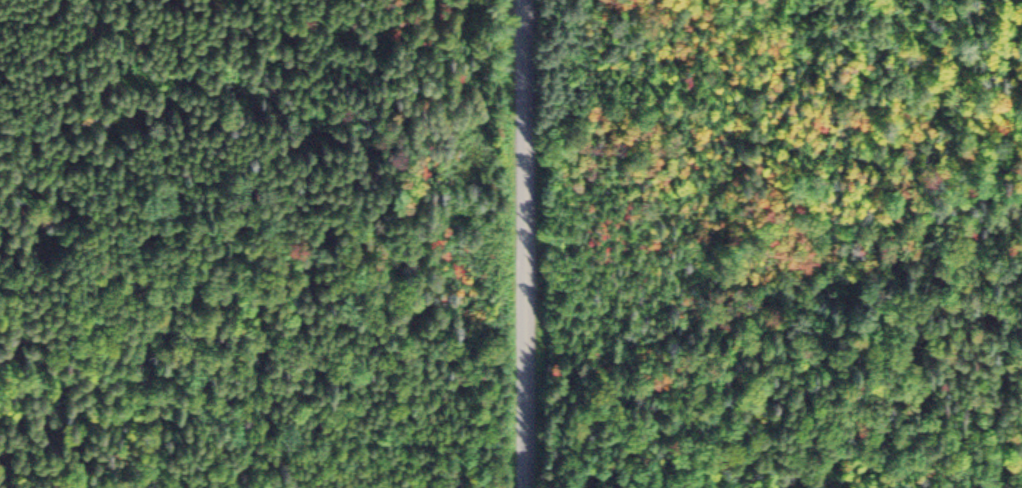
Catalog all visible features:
road: (529, 244)

